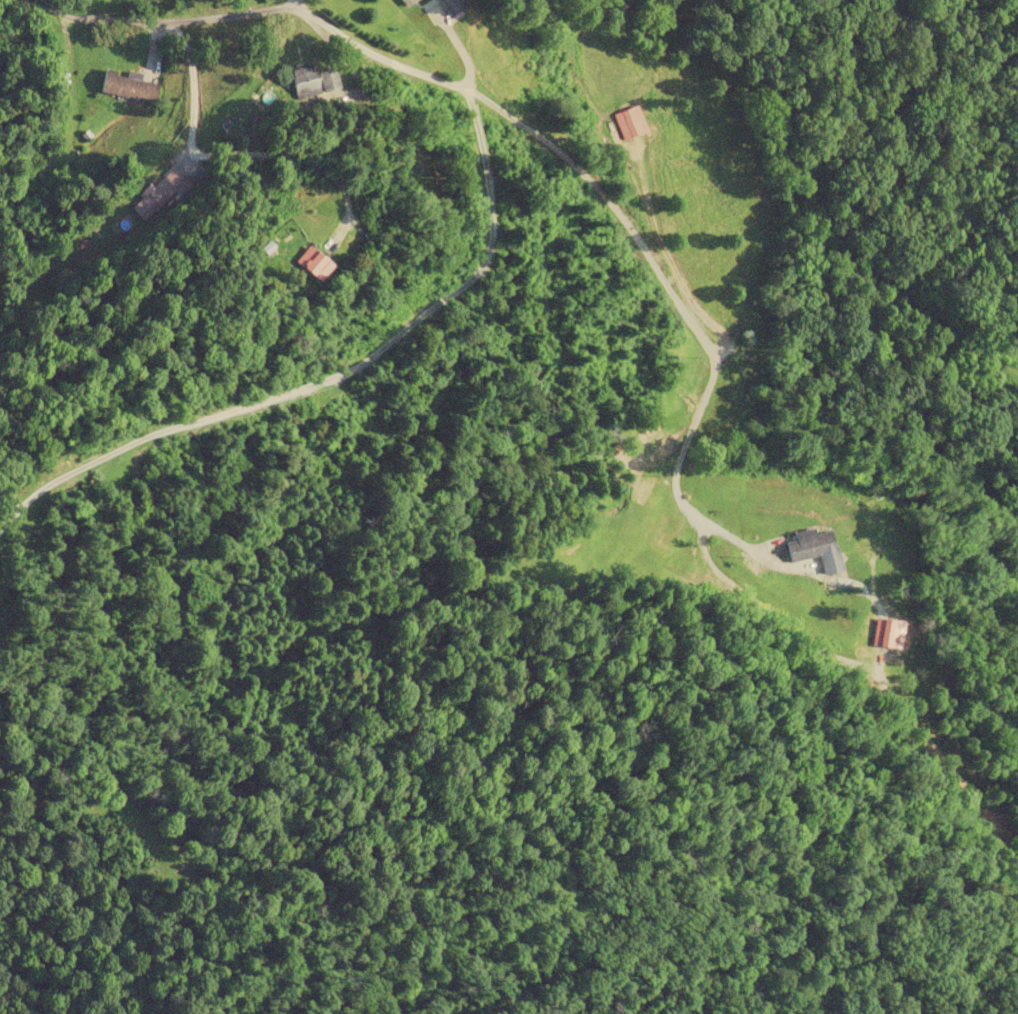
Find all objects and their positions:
road: (294, 1)
building: (407, 2)
building: (452, 6)
road: (186, 13)
building: (311, 83)
building: (126, 86)
road: (502, 116)
building: (629, 123)
building: (159, 194)
building: (314, 263)
road: (680, 496)
building: (815, 549)

